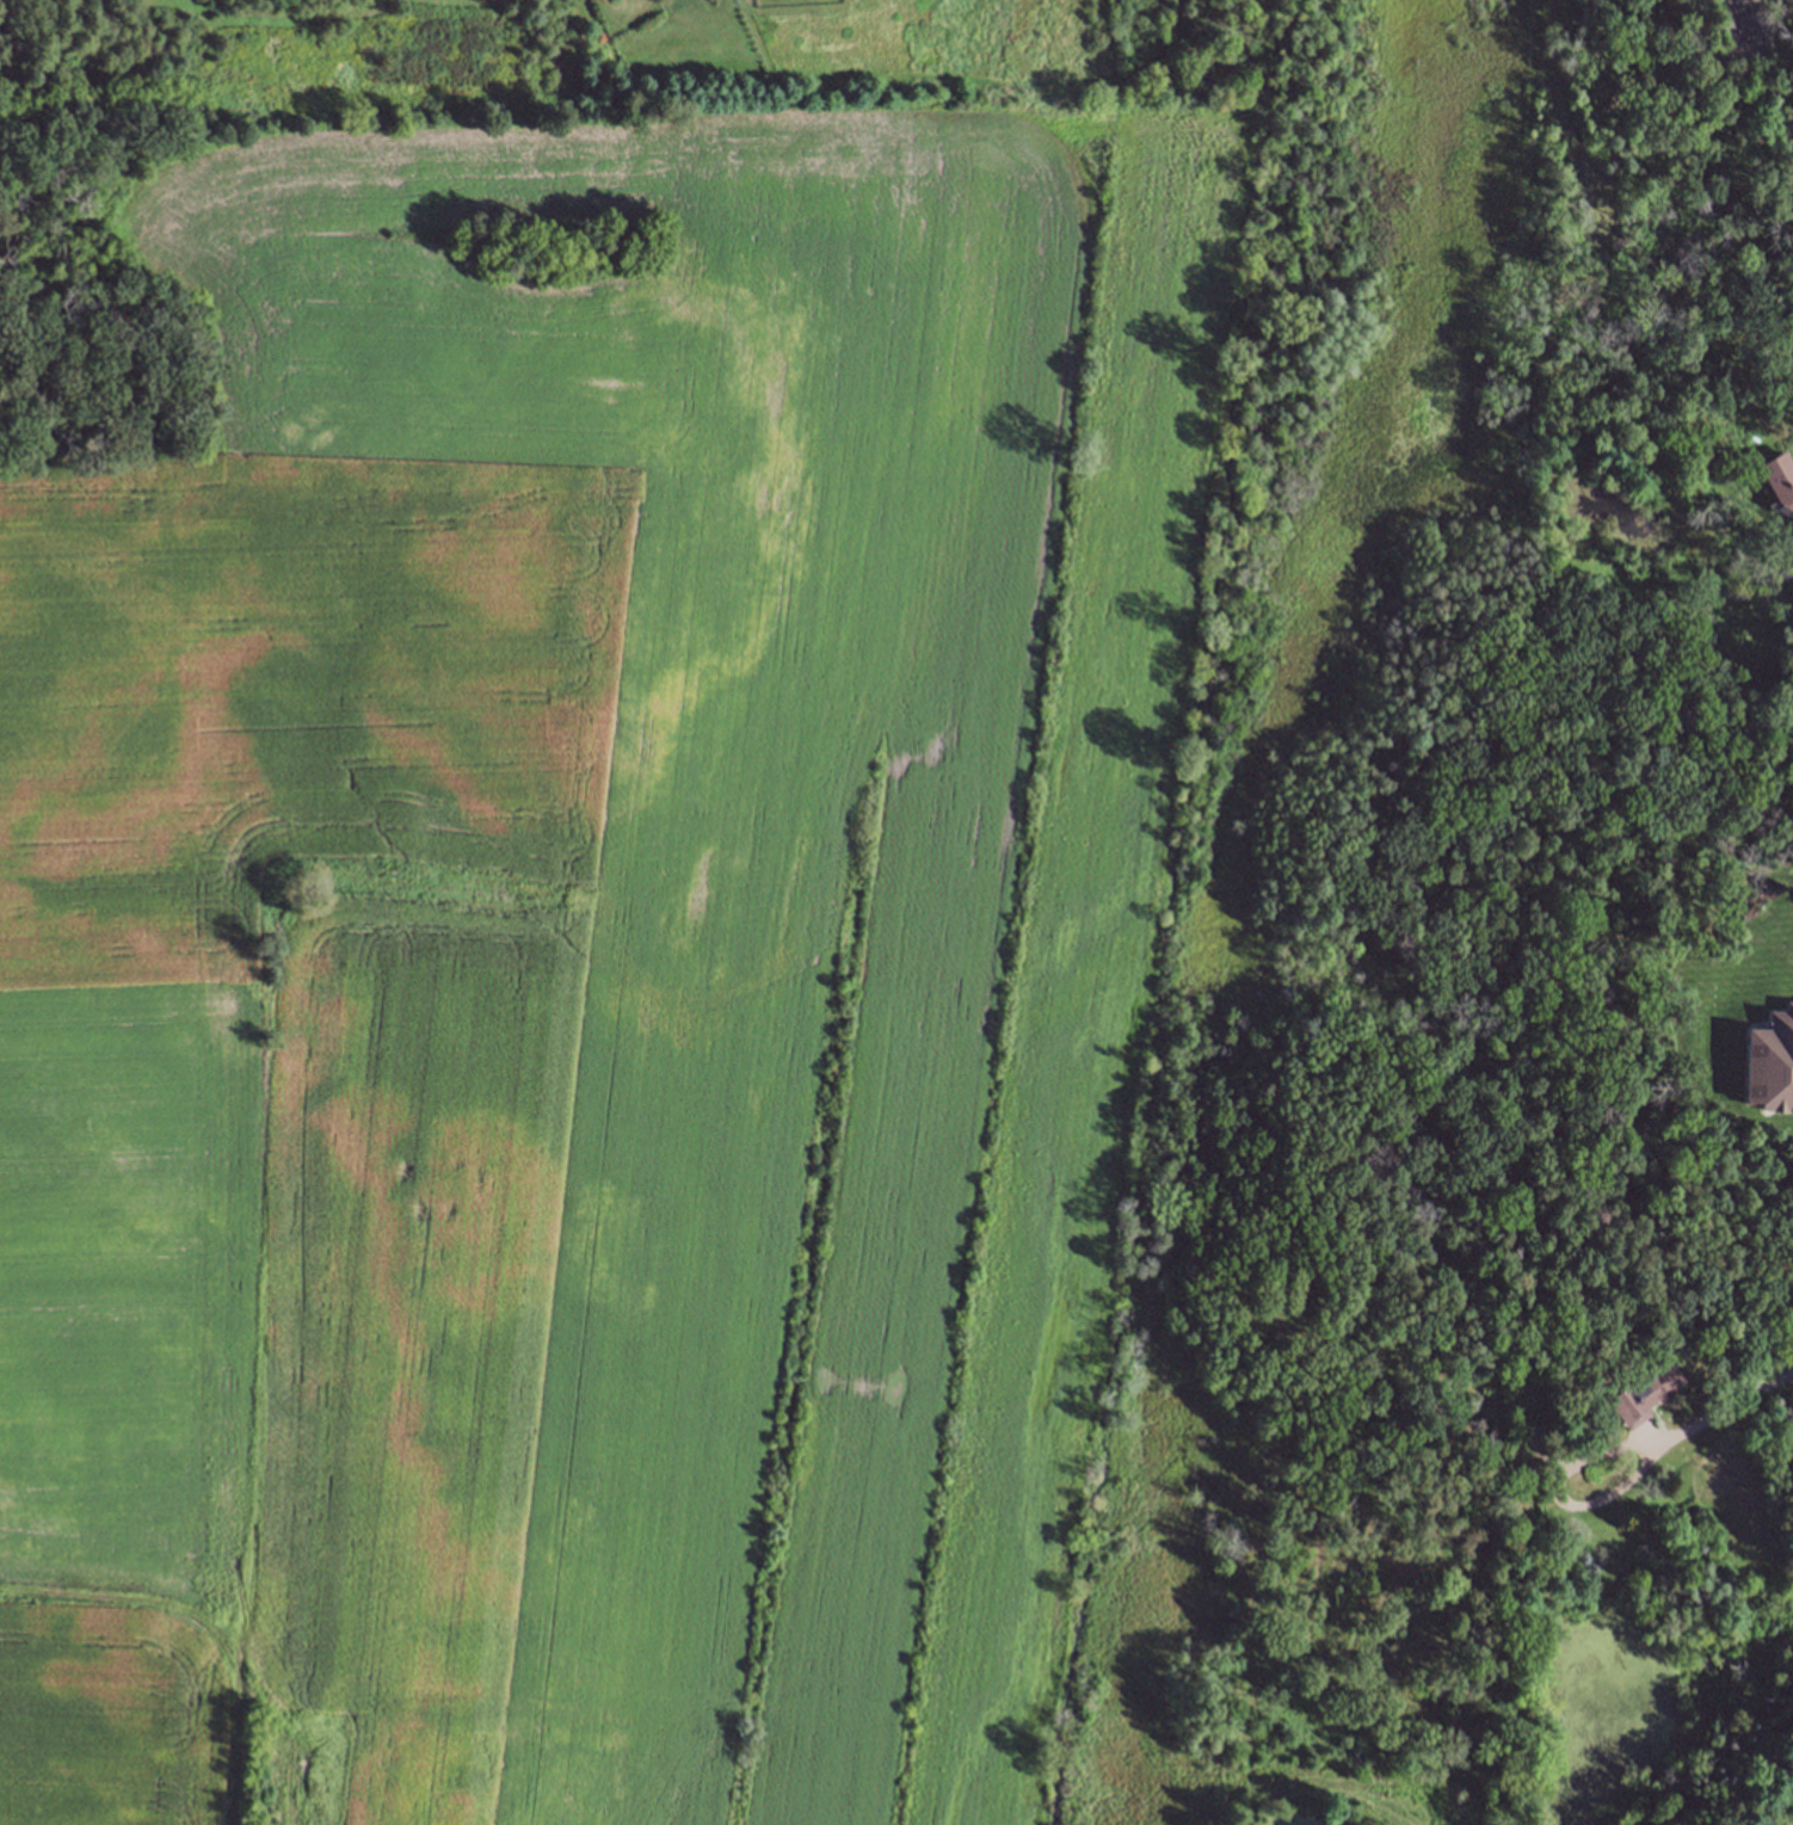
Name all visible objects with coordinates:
building: (1785, 127)
building: (1779, 477)
building: (1770, 1058)
building: (1639, 1395)
road: (1720, 1413)
building: (1523, 1471)
road: (1560, 1494)

